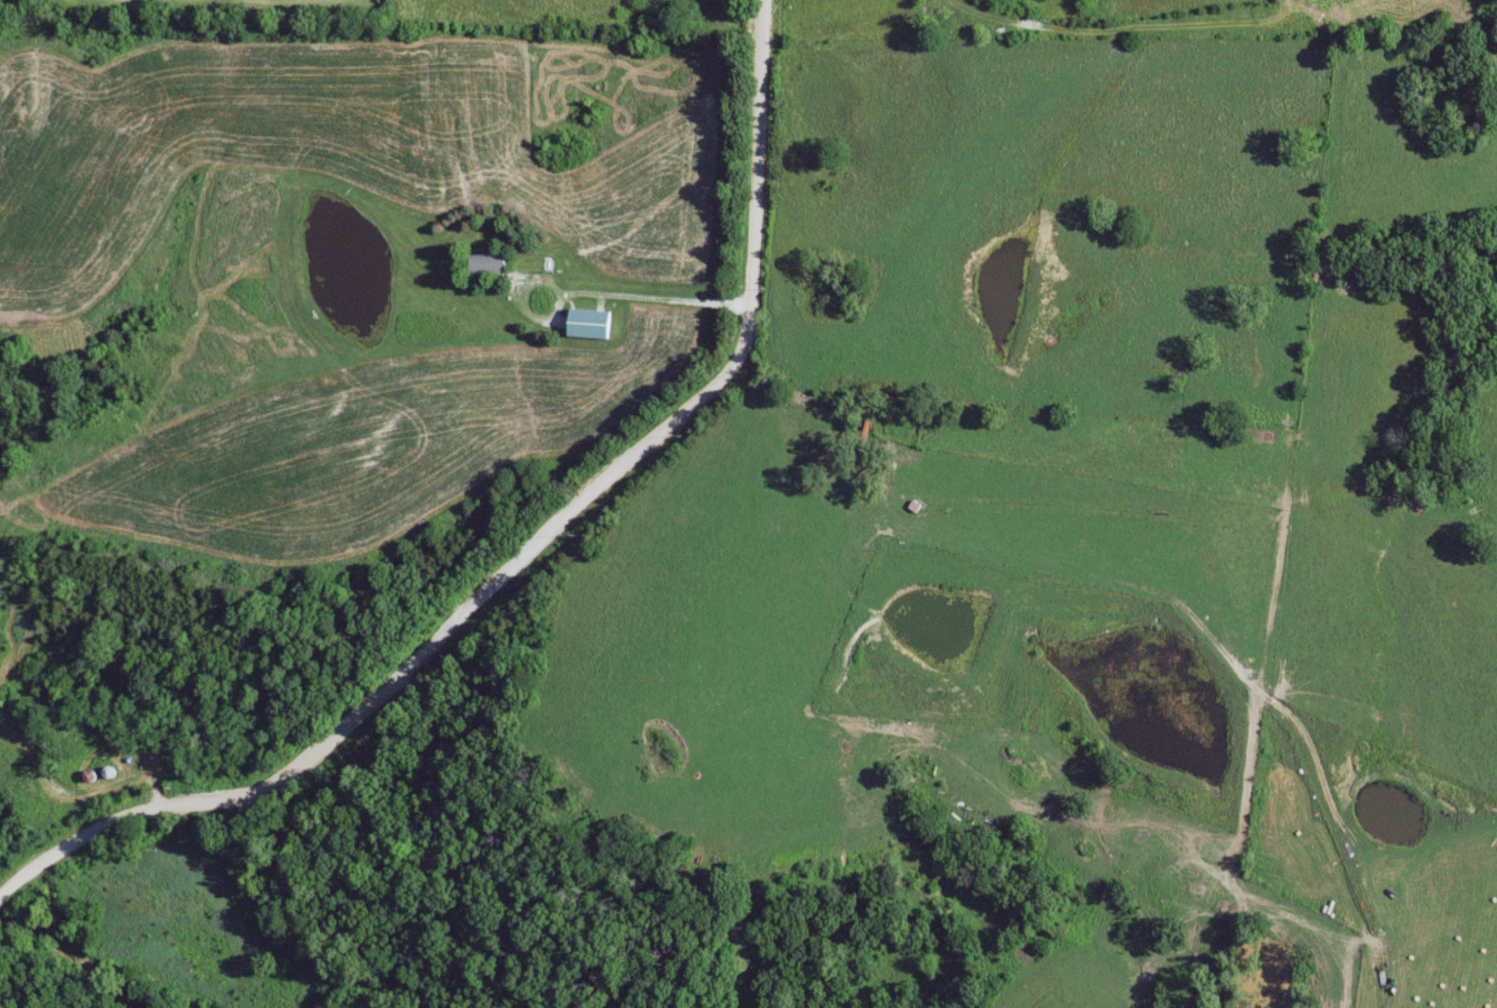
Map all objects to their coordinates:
building: (491, 265)
road: (633, 293)
building: (594, 324)
road: (527, 551)
building: (13, 818)
building: (2, 901)

